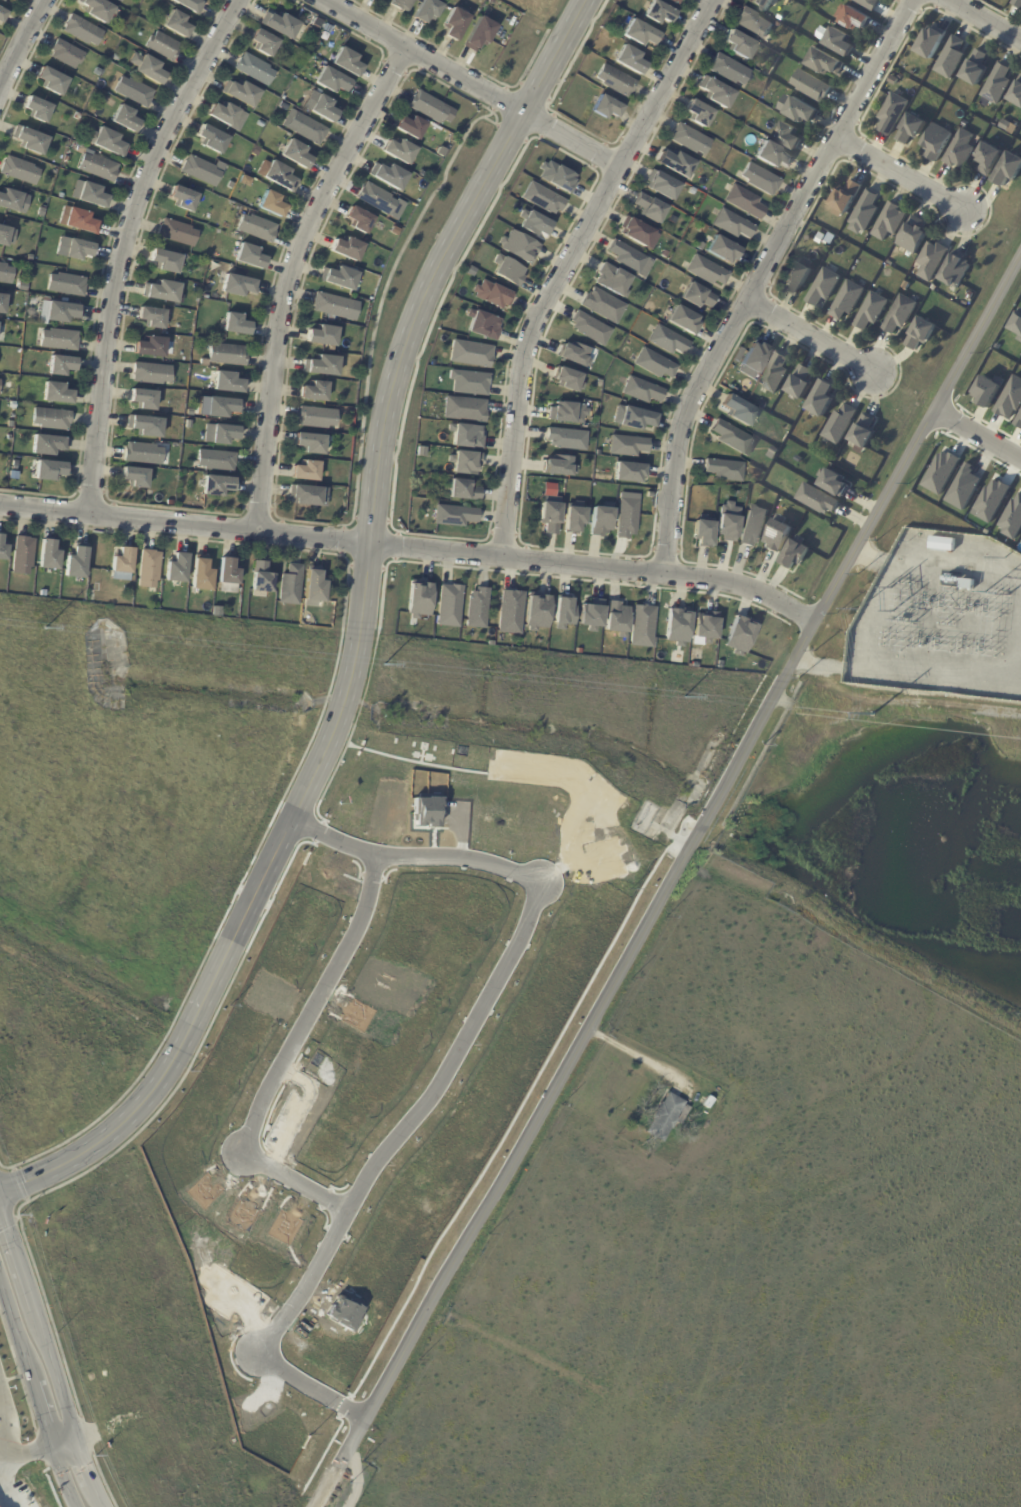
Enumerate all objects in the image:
building: (3, 0)
building: (14, 0)
building: (382, 0)
building: (120, 1)
building: (674, 2)
building: (1017, 3)
building: (190, 4)
building: (403, 4)
building: (763, 4)
building: (867, 4)
building: (99, 10)
building: (428, 10)
building: (658, 14)
building: (3, 15)
building: (778, 19)
building: (855, 19)
road: (983, 20)
building: (175, 22)
building: (456, 22)
building: (317, 23)
building: (753, 24)
building: (283, 26)
building: (83, 31)
building: (481, 33)
building: (639, 34)
building: (839, 42)
building: (931, 42)
road: (22, 43)
building: (265, 43)
building: (164, 45)
building: (737, 45)
building: (68, 54)
building: (116, 57)
building: (950, 58)
building: (629, 60)
building: (347, 62)
building: (824, 63)
building: (148, 68)
building: (255, 69)
building: (975, 69)
building: (726, 70)
building: (53, 81)
building: (332, 81)
building: (613, 81)
road: (471, 84)
building: (997, 84)
building: (810, 87)
building: (135, 91)
building: (243, 94)
building: (715, 94)
building: (1016, 95)
building: (282, 106)
building: (428, 106)
building: (324, 108)
building: (605, 108)
building: (38, 109)
building: (801, 111)
building: (224, 113)
building: (697, 114)
building: (892, 114)
building: (126, 119)
building: (260, 123)
building: (411, 126)
building: (306, 127)
building: (911, 128)
building: (788, 136)
building: (76, 137)
building: (212, 139)
building: (33, 140)
building: (687, 140)
building: (110, 142)
building: (936, 142)
building: (400, 150)
building: (960, 150)
building: (296, 154)
building: (771, 156)
building: (67, 159)
building: (987, 159)
building: (674, 163)
building: (99, 166)
building: (1007, 170)
building: (21, 171)
building: (202, 171)
road: (899, 173)
building: (280, 176)
building: (390, 176)
building: (555, 176)
building: (758, 180)
building: (660, 185)
building: (61, 195)
building: (92, 195)
building: (542, 198)
building: (846, 198)
building: (183, 199)
building: (10, 200)
building: (382, 201)
building: (743, 203)
building: (273, 204)
building: (648, 207)
building: (865, 211)
building: (41, 213)
building: (359, 220)
building: (81, 222)
building: (889, 222)
building: (533, 223)
building: (730, 225)
building: (257, 228)
building: (178, 233)
building: (636, 233)
building: (6, 236)
building: (912, 236)
road: (125, 245)
building: (518, 246)
building: (347, 249)
building: (79, 250)
building: (721, 250)
building: (250, 256)
building: (629, 258)
building: (31, 259)
building: (166, 261)
building: (931, 261)
road: (566, 265)
building: (506, 270)
building: (955, 271)
building: (705, 272)
building: (6, 274)
road: (756, 275)
road: (291, 276)
building: (797, 278)
building: (341, 279)
building: (611, 280)
building: (67, 285)
building: (238, 286)
building: (23, 287)
building: (823, 289)
building: (163, 292)
building: (492, 294)
building: (695, 296)
building: (846, 301)
building: (4, 304)
building: (601, 304)
building: (194, 305)
building: (332, 306)
building: (871, 312)
building: (60, 314)
building: (900, 315)
building: (152, 318)
building: (682, 321)
building: (482, 324)
building: (1017, 324)
building: (237, 325)
building: (589, 328)
building: (921, 334)
building: (322, 336)
road: (809, 336)
building: (60, 340)
building: (666, 342)
building: (151, 348)
building: (469, 353)
building: (573, 354)
building: (228, 356)
building: (752, 358)
building: (203, 362)
building: (653, 364)
building: (62, 366)
building: (323, 367)
building: (152, 374)
building: (775, 374)
building: (567, 378)
building: (468, 382)
building: (0, 383)
building: (228, 383)
building: (800, 383)
building: (986, 390)
building: (314, 392)
building: (642, 392)
building: (57, 394)
building: (742, 395)
building: (1010, 398)
building: (821, 399)
building: (144, 400)
building: (12, 406)
building: (223, 408)
building: (463, 408)
building: (737, 411)
building: (189, 412)
building: (566, 412)
building: (52, 419)
building: (317, 419)
building: (635, 419)
building: (1019, 422)
building: (840, 425)
building: (13, 427)
building: (148, 427)
building: (863, 432)
road: (978, 433)
building: (222, 434)
building: (465, 435)
building: (9, 438)
building: (565, 438)
building: (732, 438)
building: (311, 444)
building: (48, 445)
building: (627, 447)
building: (144, 454)
building: (216, 462)
building: (463, 462)
building: (557, 465)
building: (50, 471)
building: (722, 471)
building: (941, 471)
building: (306, 472)
building: (628, 472)
building: (136, 478)
building: (831, 481)
building: (217, 487)
building: (963, 487)
building: (462, 491)
building: (309, 497)
building: (817, 499)
building: (991, 500)
building: (169, 502)
building: (182, 504)
building: (455, 516)
building: (549, 516)
building: (1012, 516)
building: (625, 517)
building: (572, 518)
building: (599, 520)
building: (727, 521)
building: (752, 525)
building: (702, 533)
building: (777, 534)
building: (942, 544)
road: (412, 548)
building: (3, 551)
building: (794, 554)
building: (23, 555)
building: (50, 556)
power tower: (1003, 556)
building: (123, 562)
building: (77, 563)
building: (150, 570)
building: (177, 571)
building: (228, 574)
building: (201, 576)
building: (261, 580)
building: (967, 584)
building: (291, 586)
building: (314, 588)
building: (418, 598)
building: (448, 605)
building: (476, 608)
power tower: (857, 609)
building: (562, 610)
building: (509, 611)
building: (536, 612)
building: (735, 612)
building: (216, 614)
building: (590, 614)
building: (615, 617)
power substation: (941, 617)
building: (641, 625)
building: (676, 625)
building: (705, 625)
power tower: (43, 628)
building: (738, 634)
road: (357, 637)
power tower: (384, 666)
power tower: (683, 697)
power tower: (873, 714)
road: (668, 883)
road: (291, 1052)
road: (634, 1054)
road: (456, 1059)
building: (706, 1102)
building: (665, 1117)
road: (50, 1357)
road: (34, 1393)
road: (64, 1447)
road: (25, 1450)

